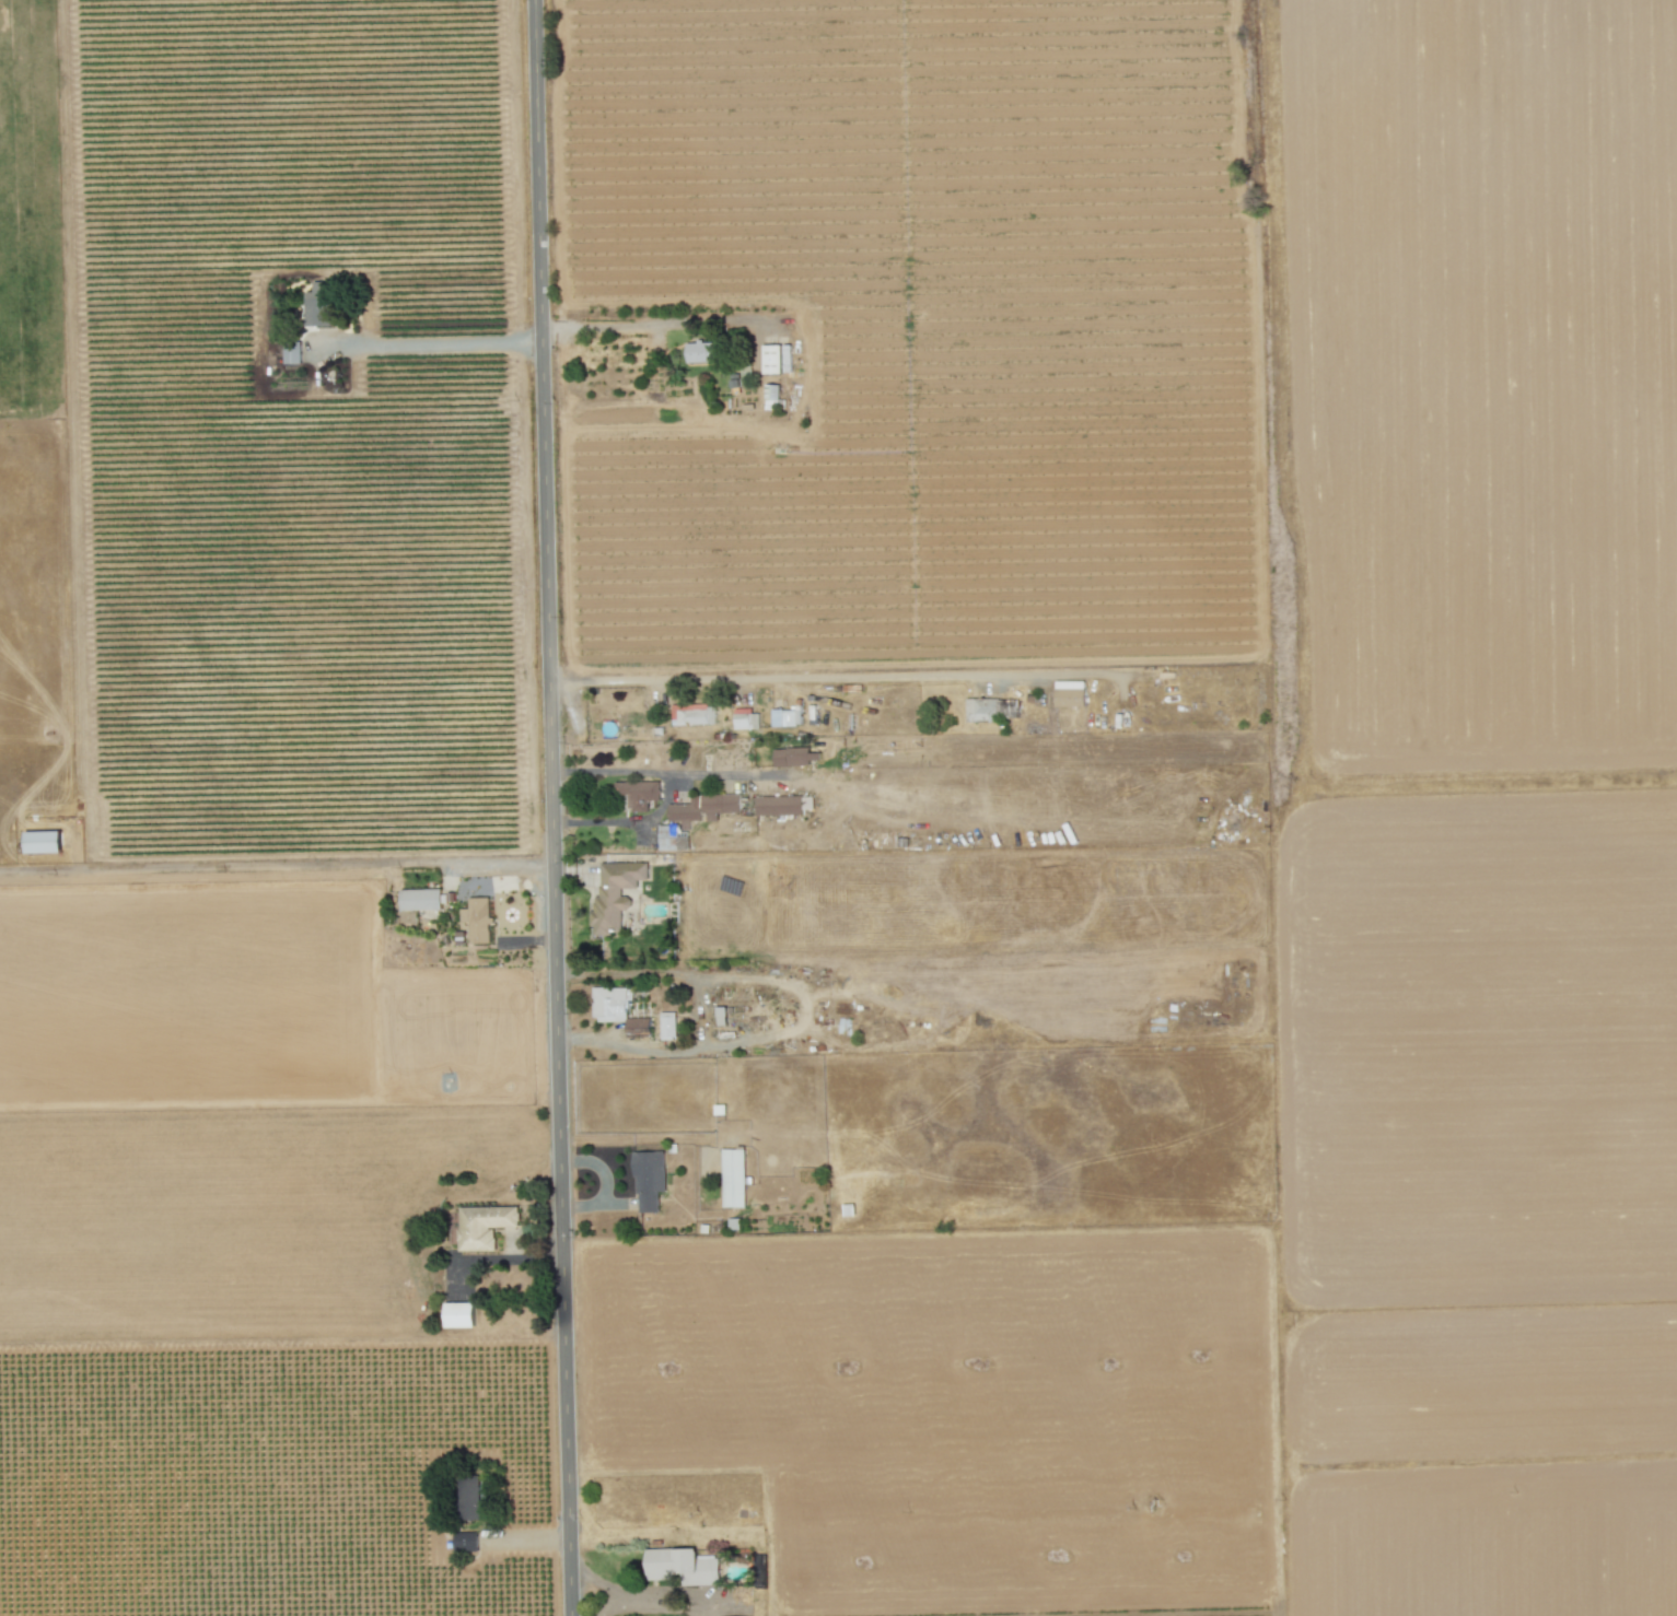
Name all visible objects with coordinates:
building: (317, 305)
road: (654, 326)
road: (433, 343)
building: (291, 352)
building: (701, 352)
building: (776, 359)
road: (797, 675)
building: (1069, 693)
building: (991, 709)
building: (692, 714)
building: (785, 717)
building: (745, 719)
building: (793, 757)
road: (672, 774)
building: (638, 794)
building: (778, 806)
road: (554, 808)
building: (702, 809)
road: (628, 821)
building: (43, 842)
building: (615, 893)
building: (420, 899)
building: (477, 920)
building: (616, 1009)
road: (701, 1016)
building: (667, 1026)
building: (732, 1179)
building: (649, 1181)
building: (484, 1226)
building: (458, 1315)
building: (465, 1542)
building: (682, 1567)
road: (601, 1586)

